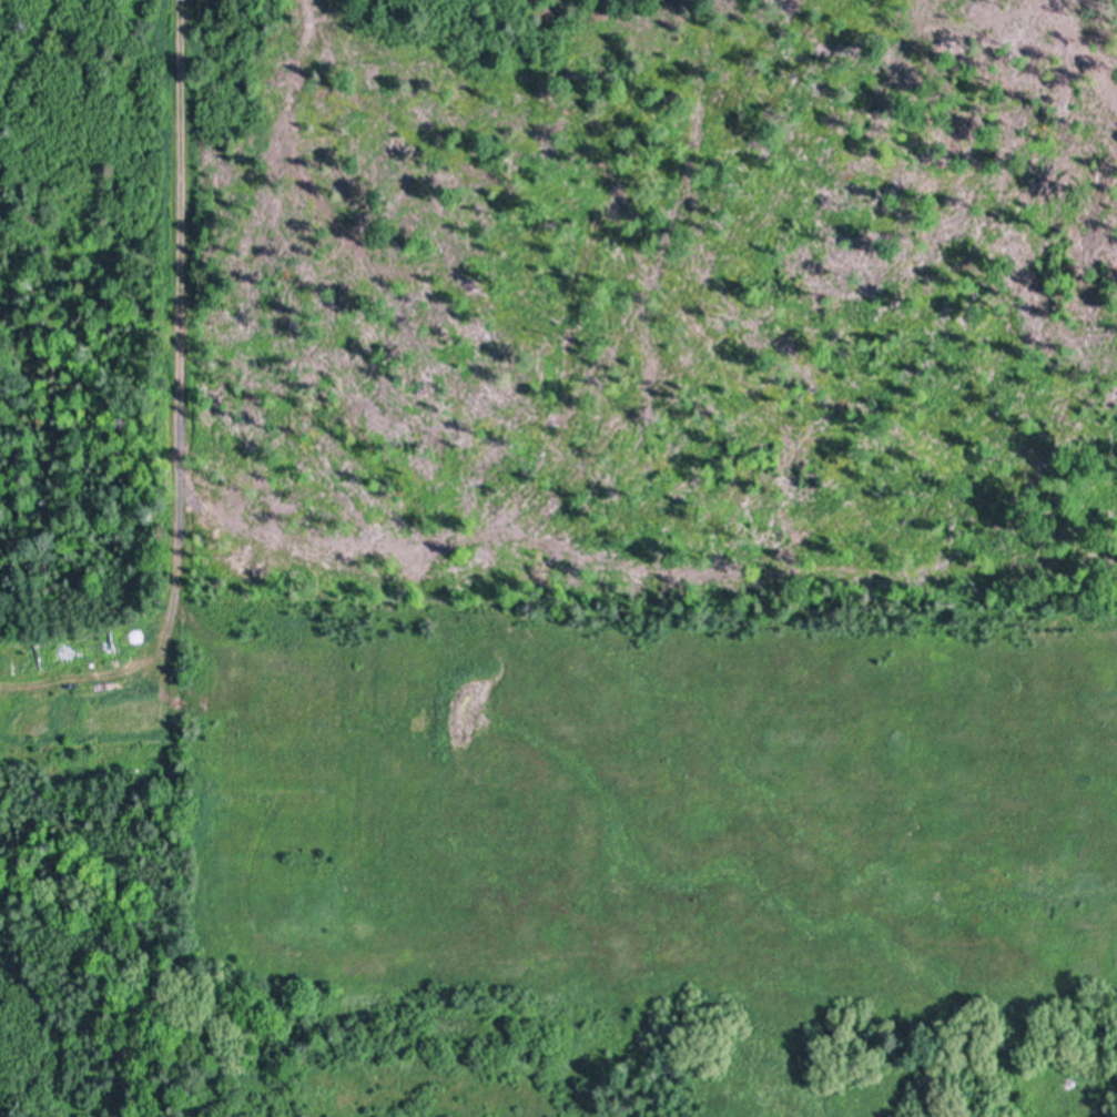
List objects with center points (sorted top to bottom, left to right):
road: (177, 311)
building: (75, 649)
building: (122, 814)

